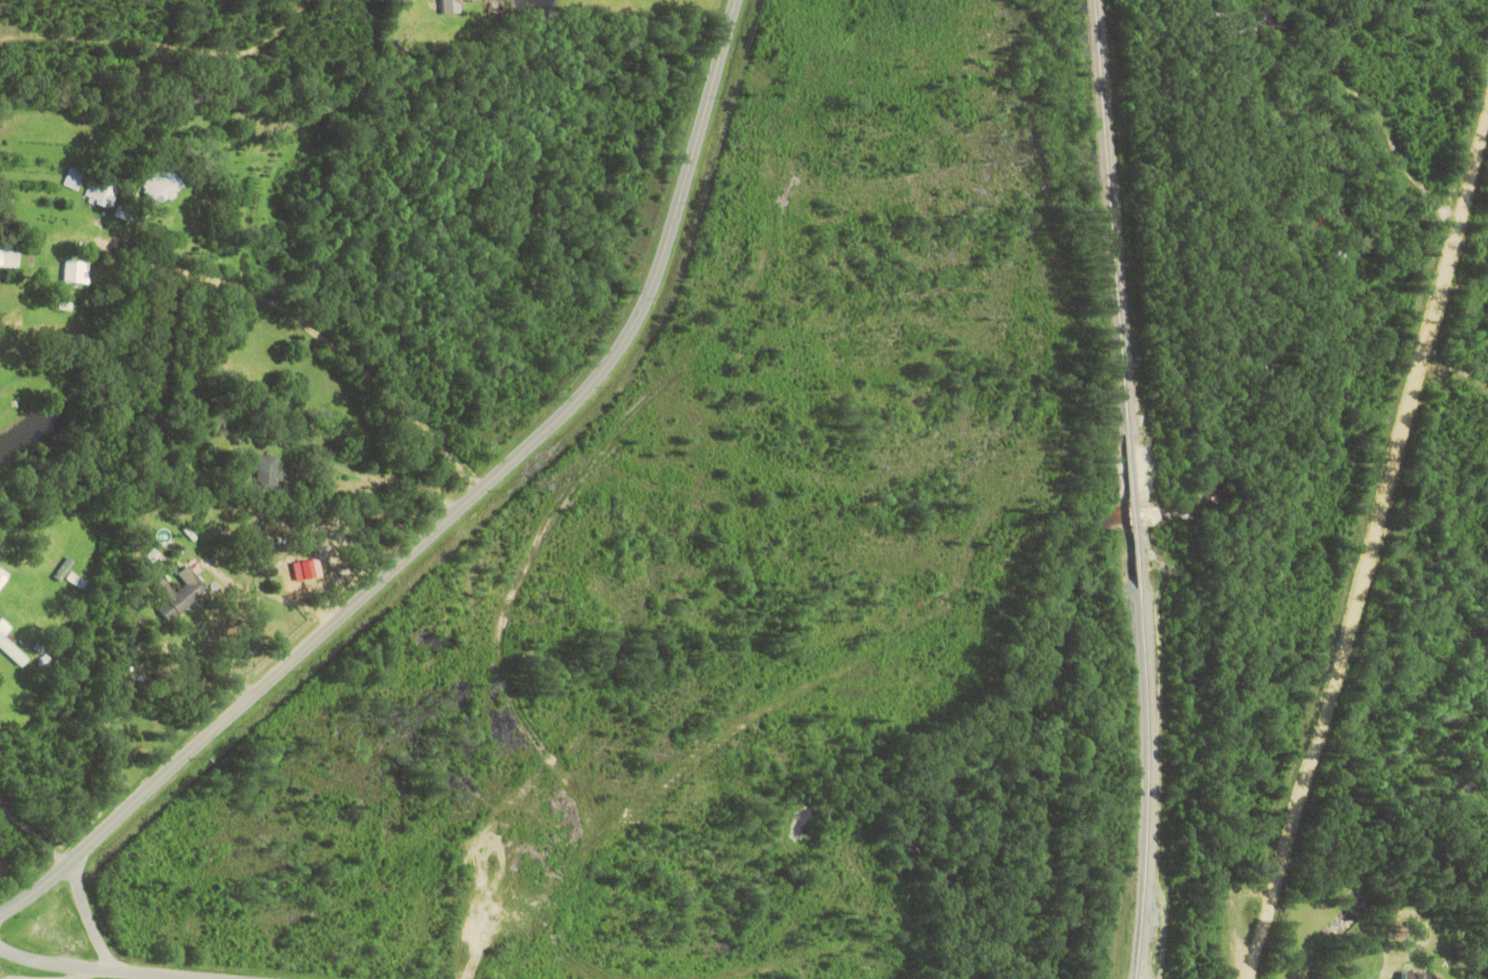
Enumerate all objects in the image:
building: (452, 6)
building: (75, 178)
building: (164, 187)
building: (103, 189)
railway: (1115, 216)
building: (10, 257)
building: (78, 270)
road: (325, 339)
building: (270, 470)
road: (486, 485)
railway: (1136, 510)
river: (1198, 515)
road: (1371, 567)
building: (182, 593)
building: (11, 645)
railway: (1150, 784)
road: (35, 829)
road: (36, 889)
road: (91, 919)
road: (109, 968)
building: (1419, 975)

